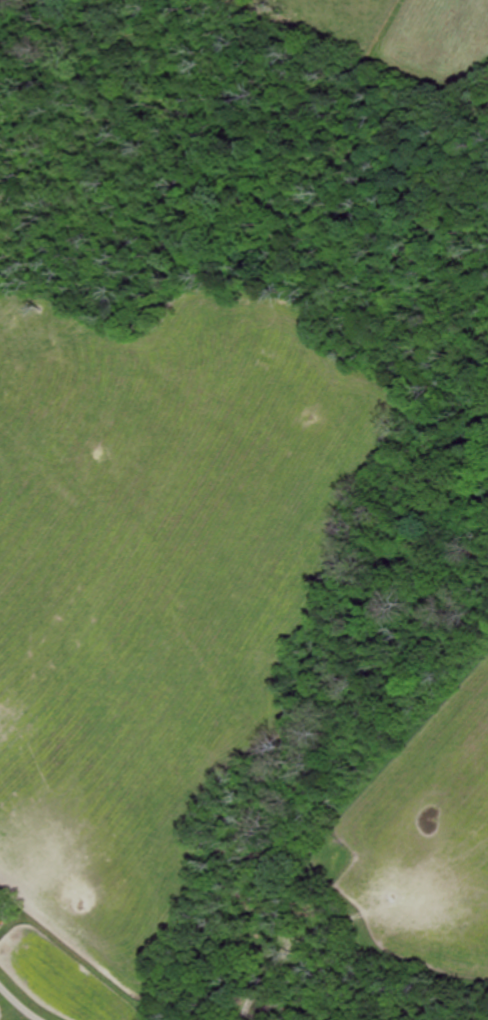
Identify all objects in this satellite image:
road: (20, 1004)

